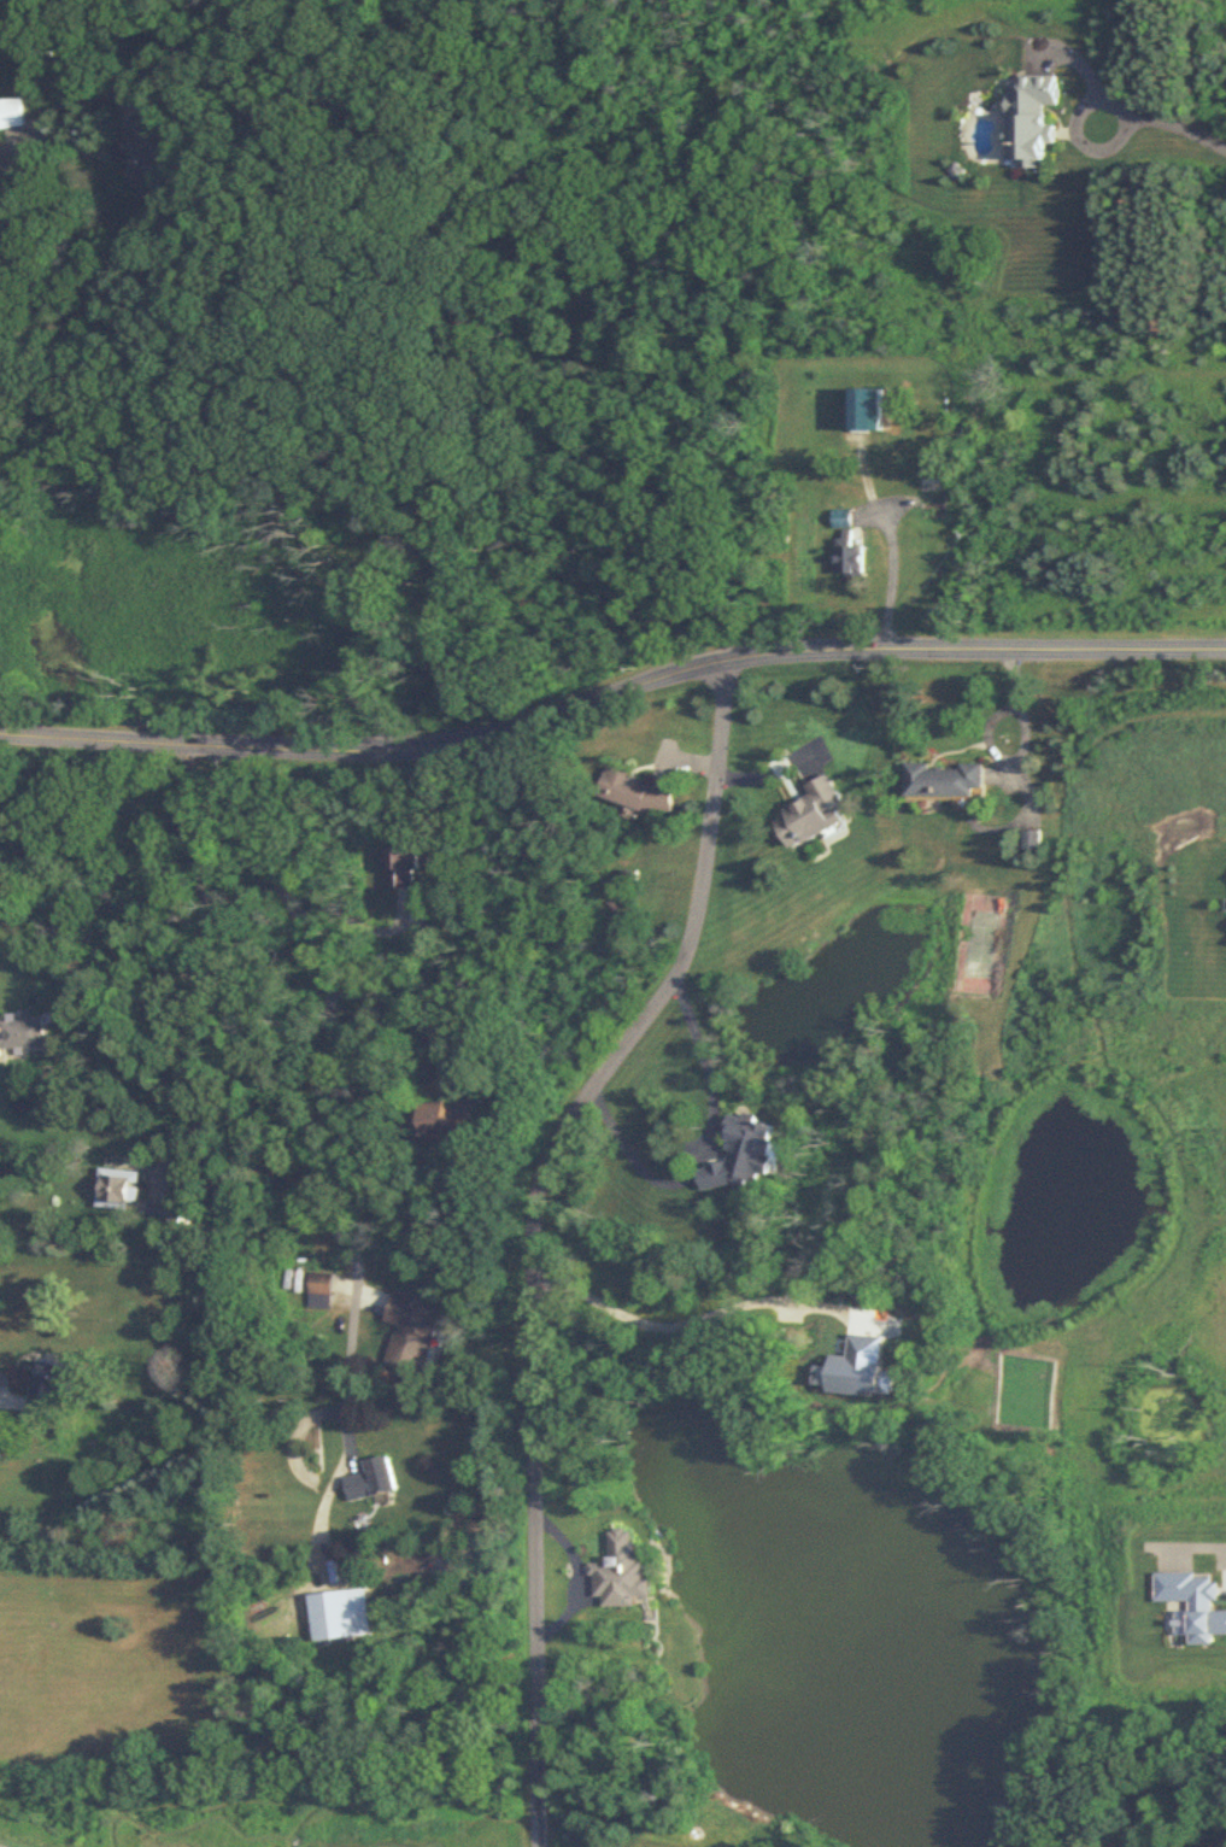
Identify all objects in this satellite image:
building: (37, 42)
road: (121, 107)
building: (11, 112)
building: (1033, 117)
road: (1163, 123)
road: (18, 143)
building: (143, 152)
building: (866, 407)
building: (850, 553)
road: (892, 569)
road: (611, 694)
building: (945, 779)
building: (639, 791)
building: (816, 813)
building: (1033, 839)
building: (403, 864)
road: (204, 966)
road: (403, 1008)
road: (324, 1009)
building: (24, 1034)
building: (447, 1127)
road: (704, 1150)
building: (747, 1156)
road: (526, 1225)
building: (322, 1283)
road: (370, 1304)
road: (646, 1314)
building: (412, 1319)
road: (344, 1384)
building: (52, 1388)
building: (374, 1480)
road: (318, 1519)
road: (1201, 1536)
building: (626, 1570)
road: (579, 1575)
building: (341, 1616)
park: (37, 1828)
road: (4, 1846)

